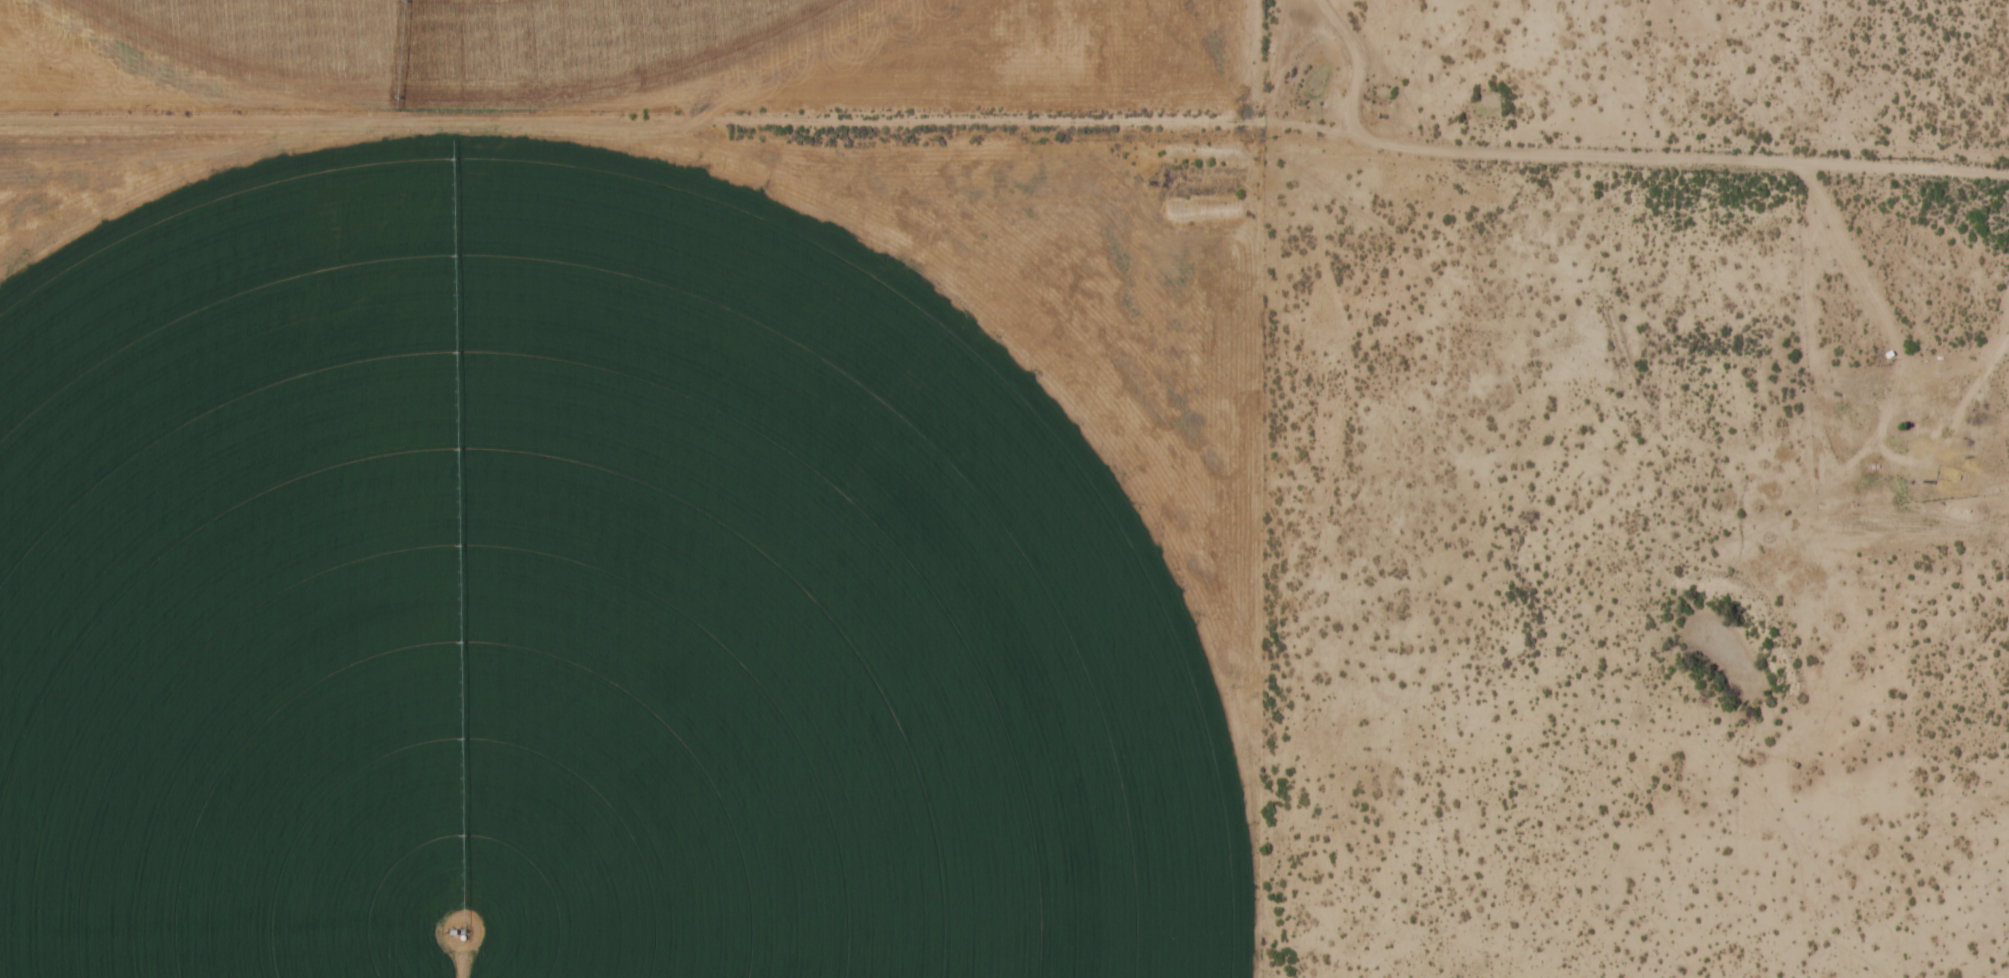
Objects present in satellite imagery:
crop: (473, 48)
road: (1357, 66)
road: (684, 132)
road: (1688, 159)
crop: (570, 608)

